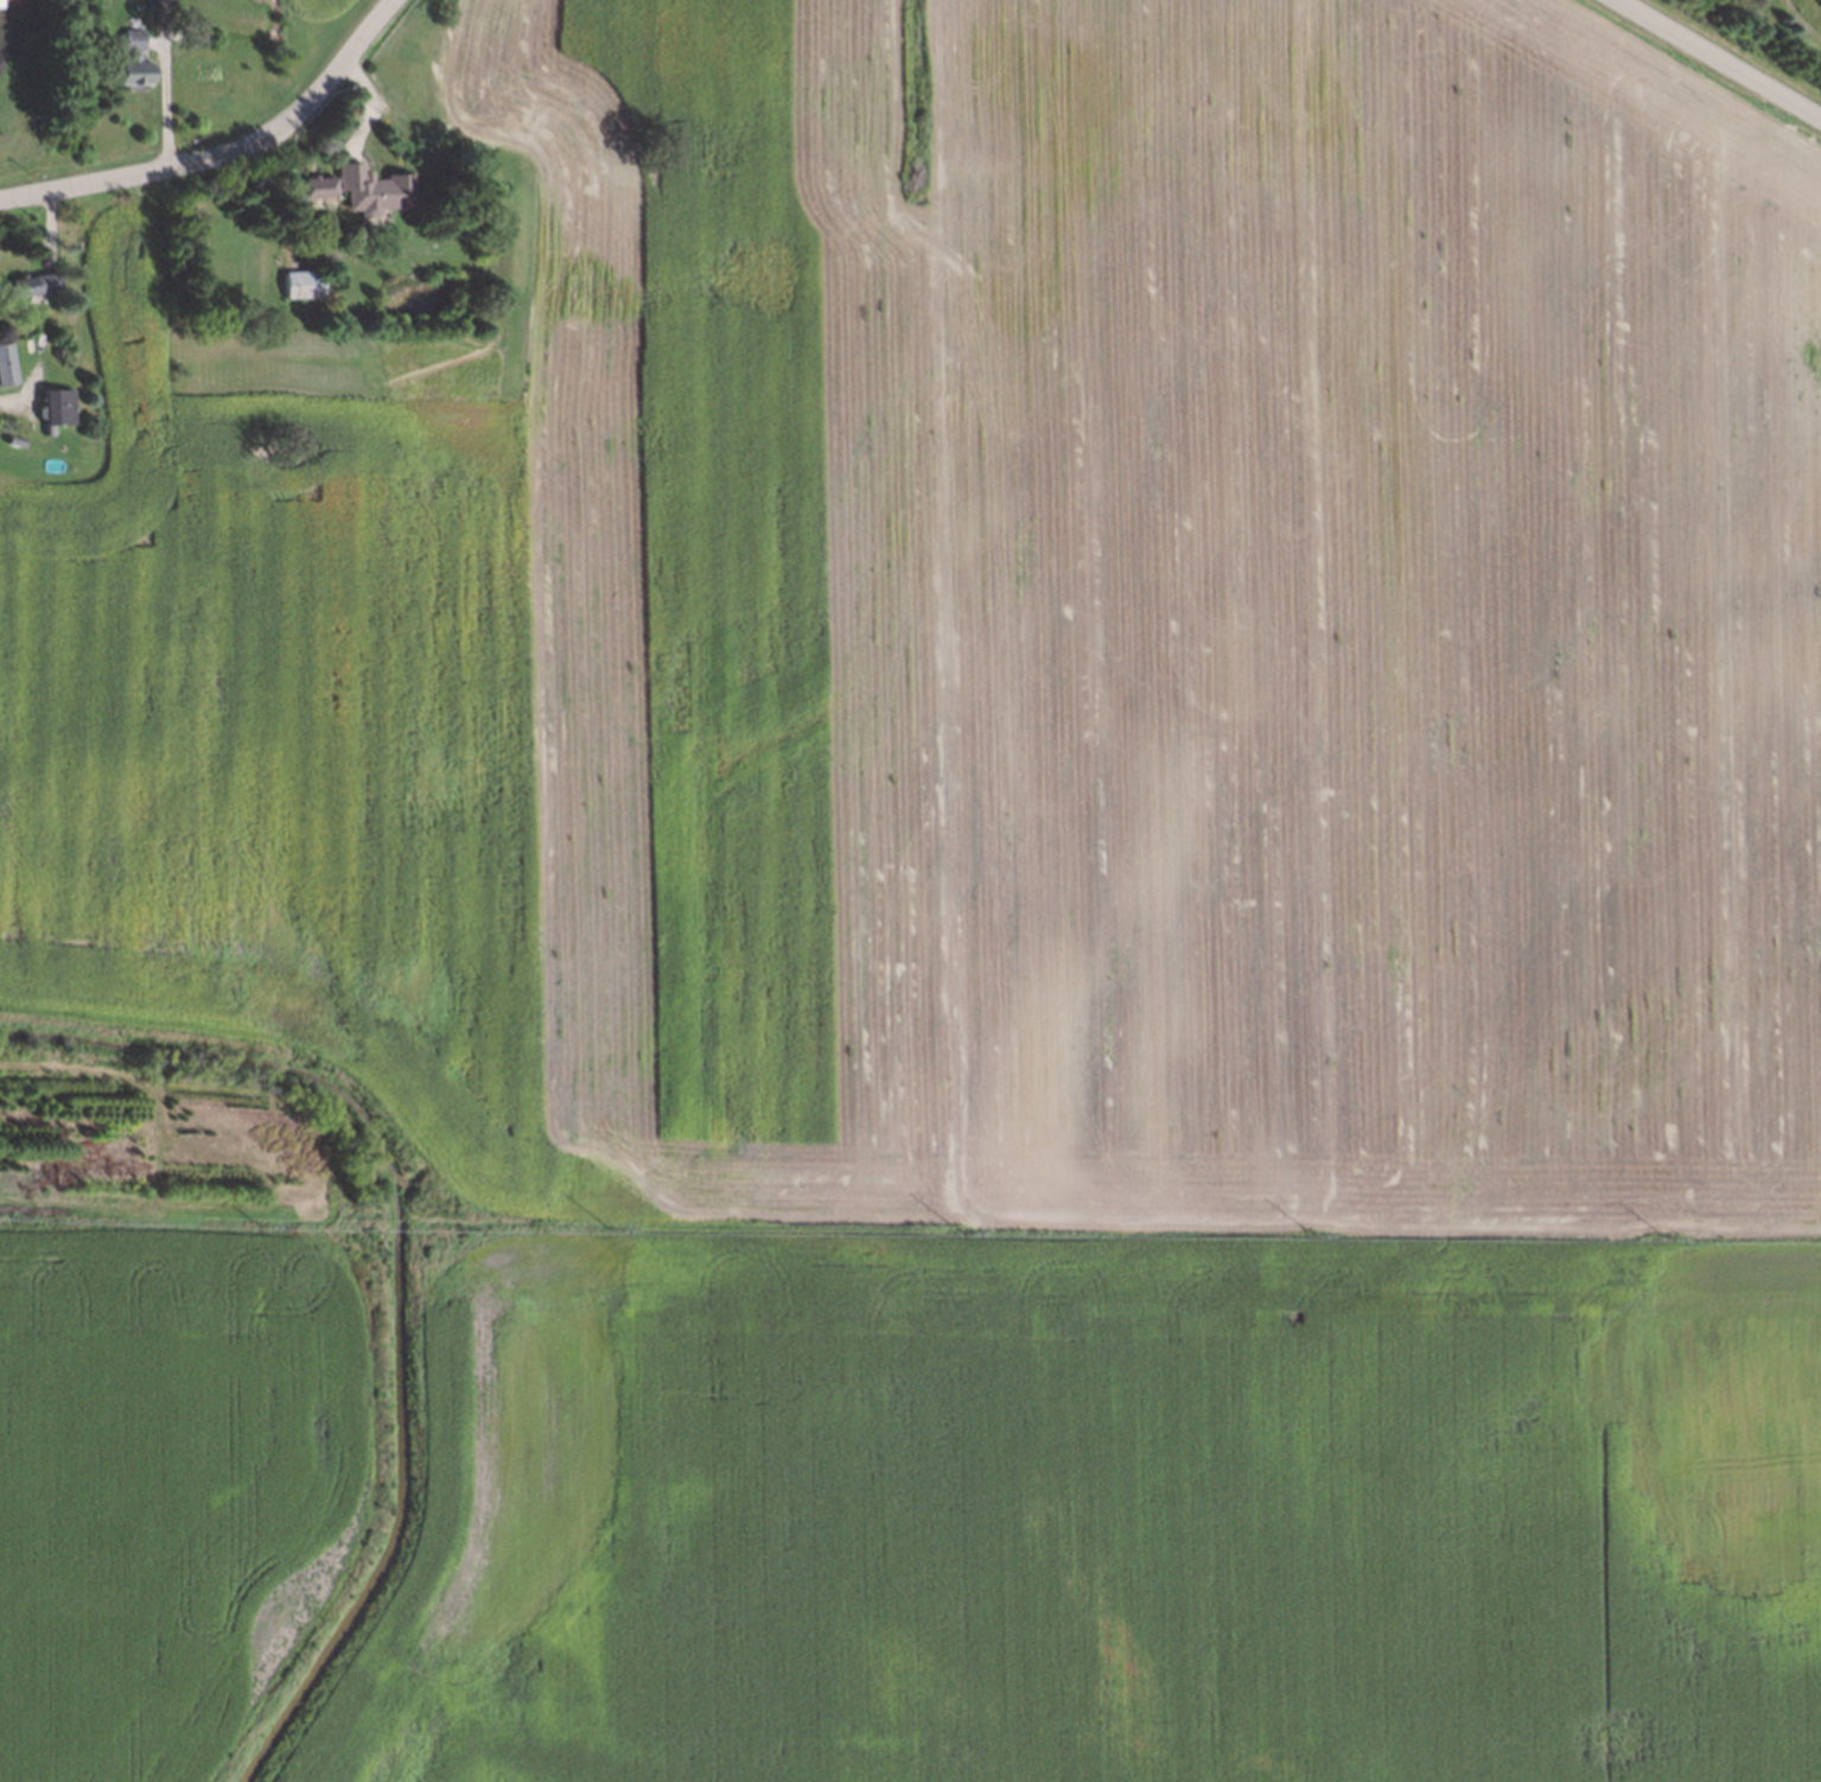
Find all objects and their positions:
building: (192, 33)
building: (128, 57)
road: (1717, 59)
road: (168, 82)
road: (229, 153)
building: (311, 187)
building: (370, 187)
building: (299, 281)
building: (28, 282)
building: (52, 350)
building: (4, 362)
road: (1, 402)
building: (51, 407)
building: (11, 441)

